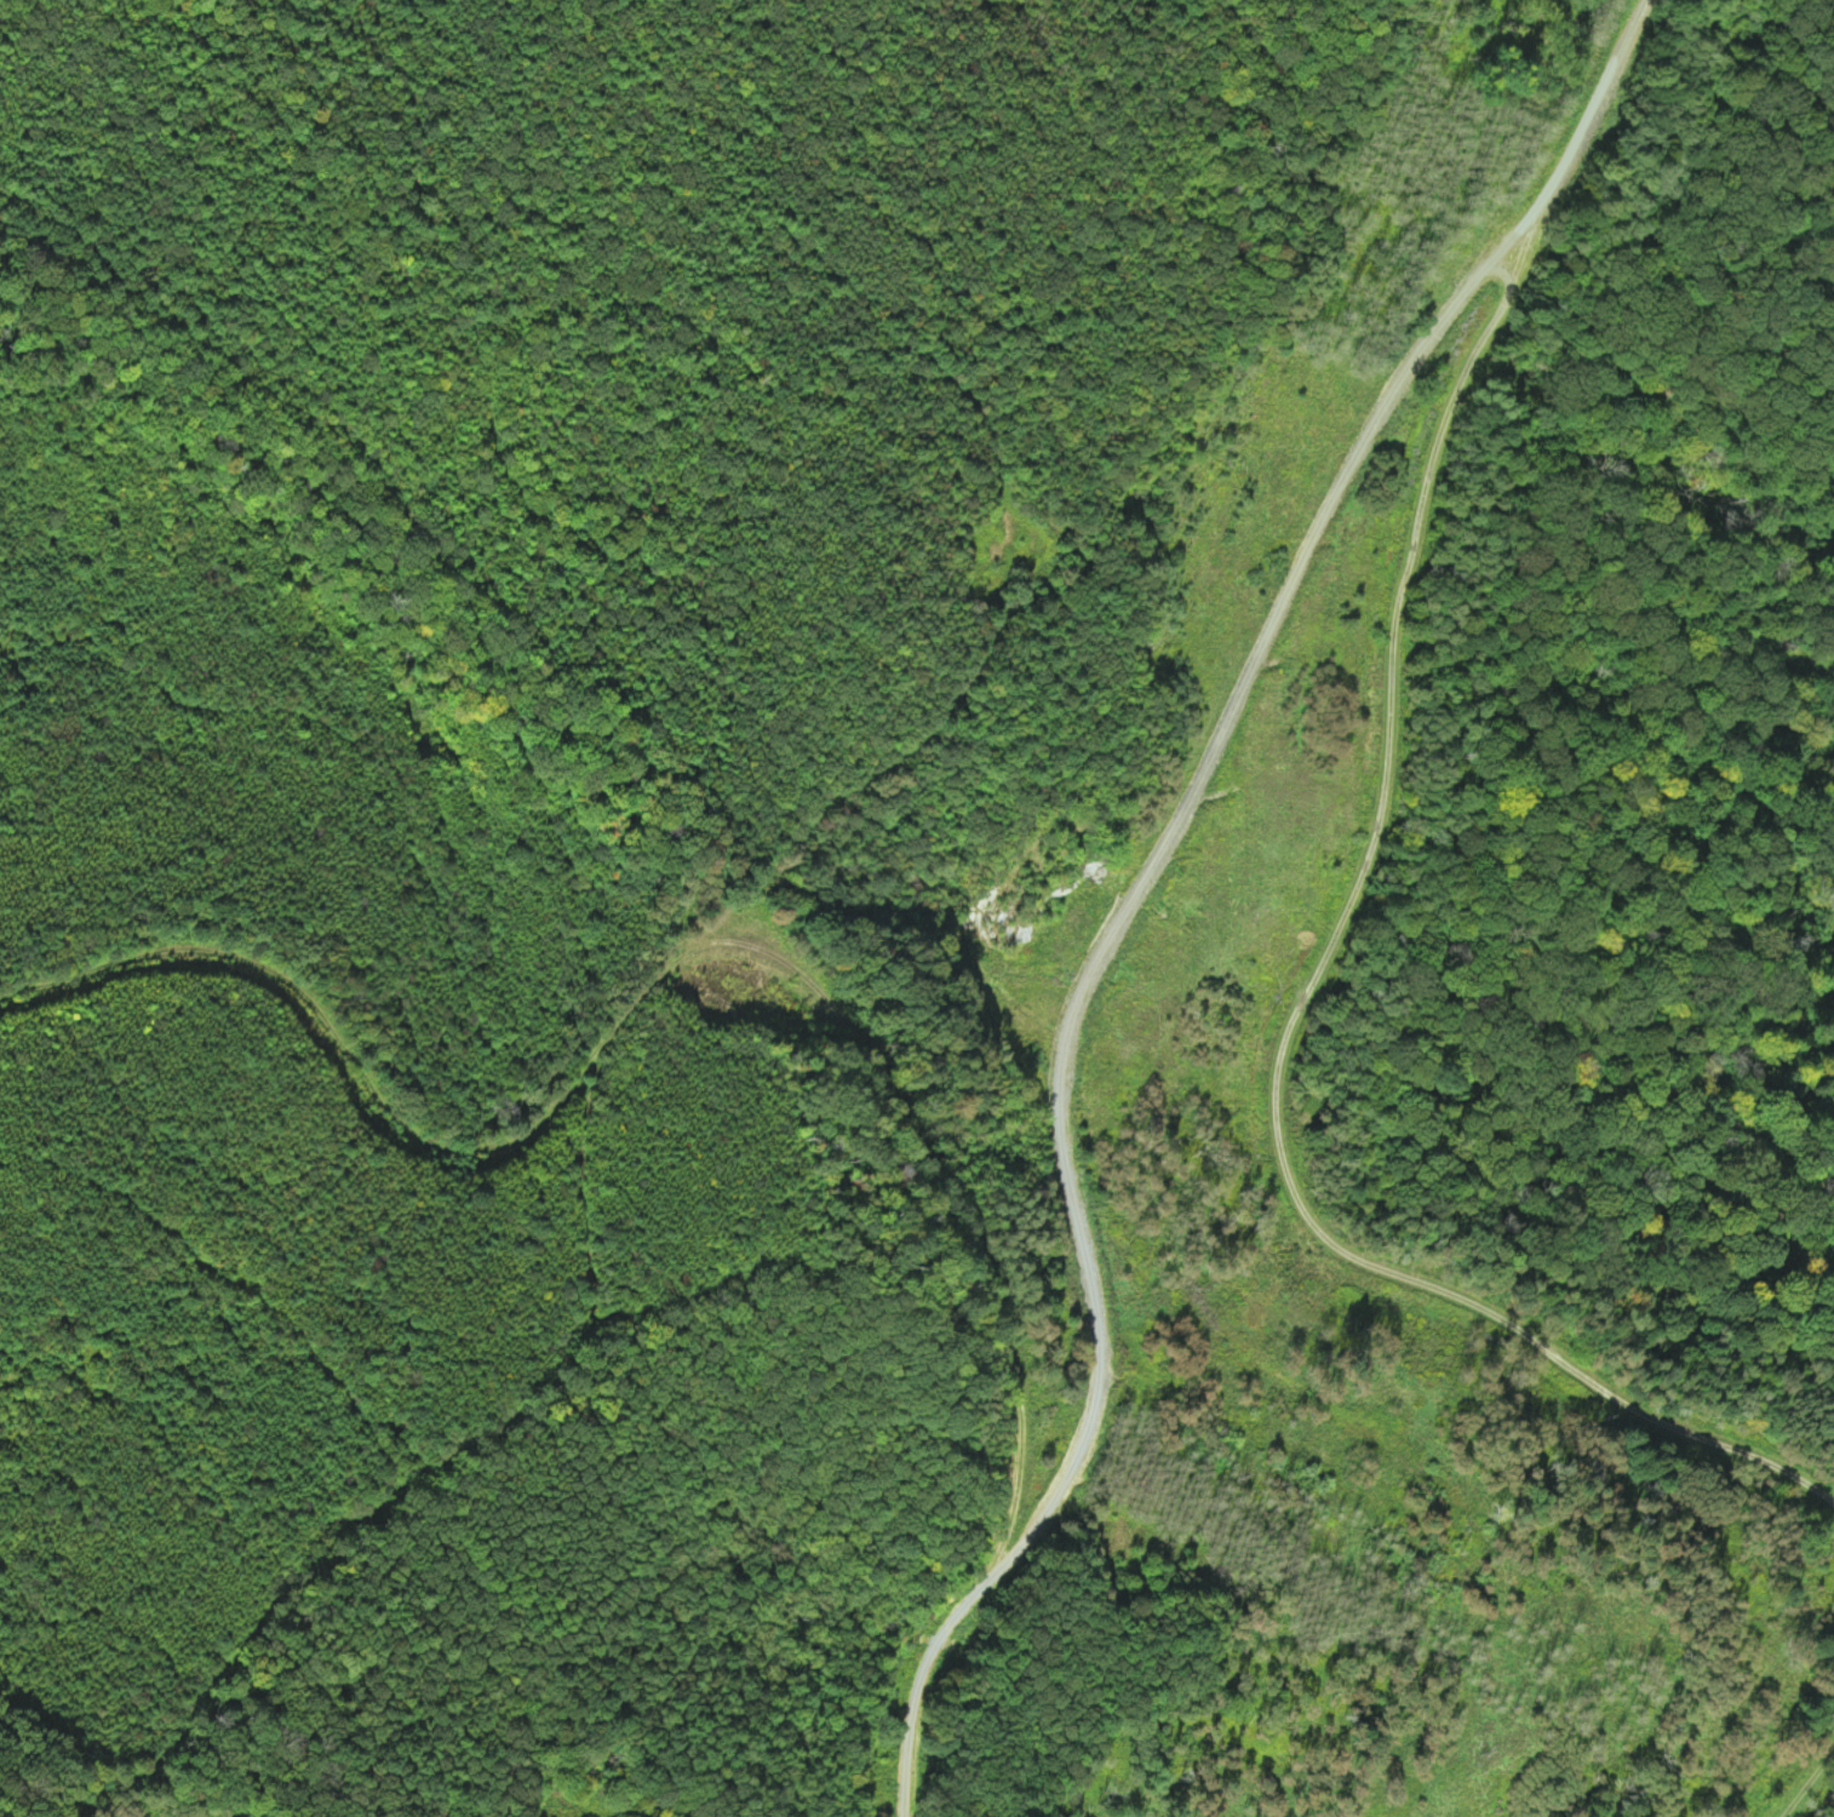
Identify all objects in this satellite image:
road: (1094, 624)
road: (1420, 793)
road: (1065, 1113)
road: (1700, 1292)
road: (986, 1535)
road: (354, 1761)
road: (1740, 1781)

